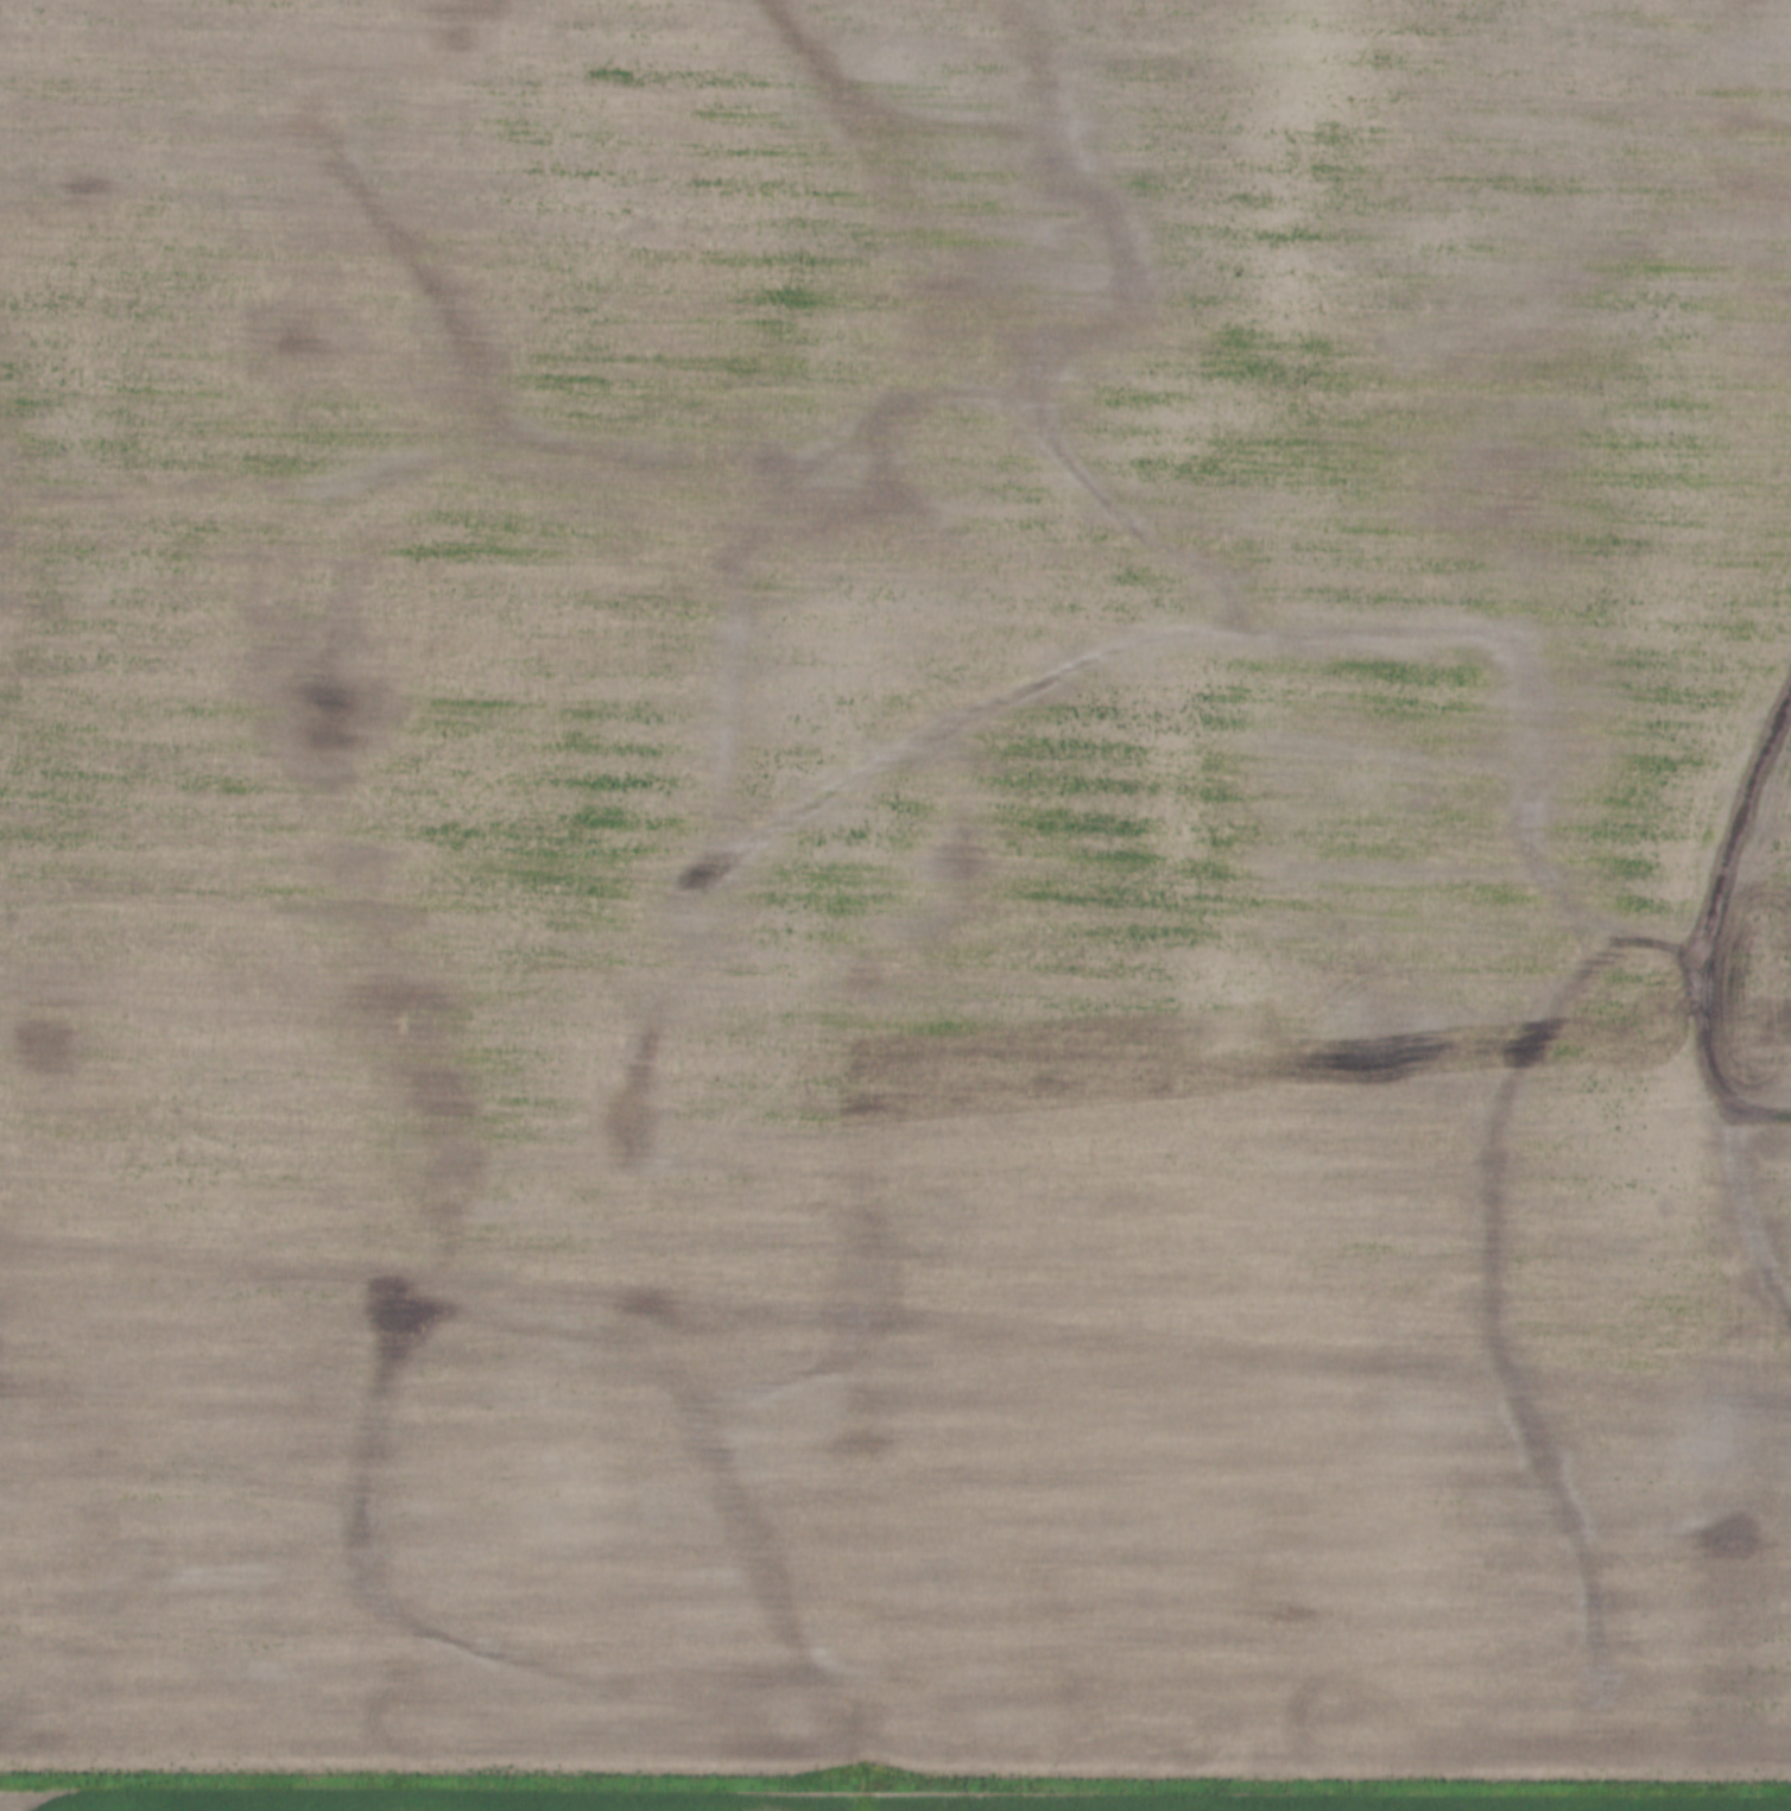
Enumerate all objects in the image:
road: (894, 1787)

